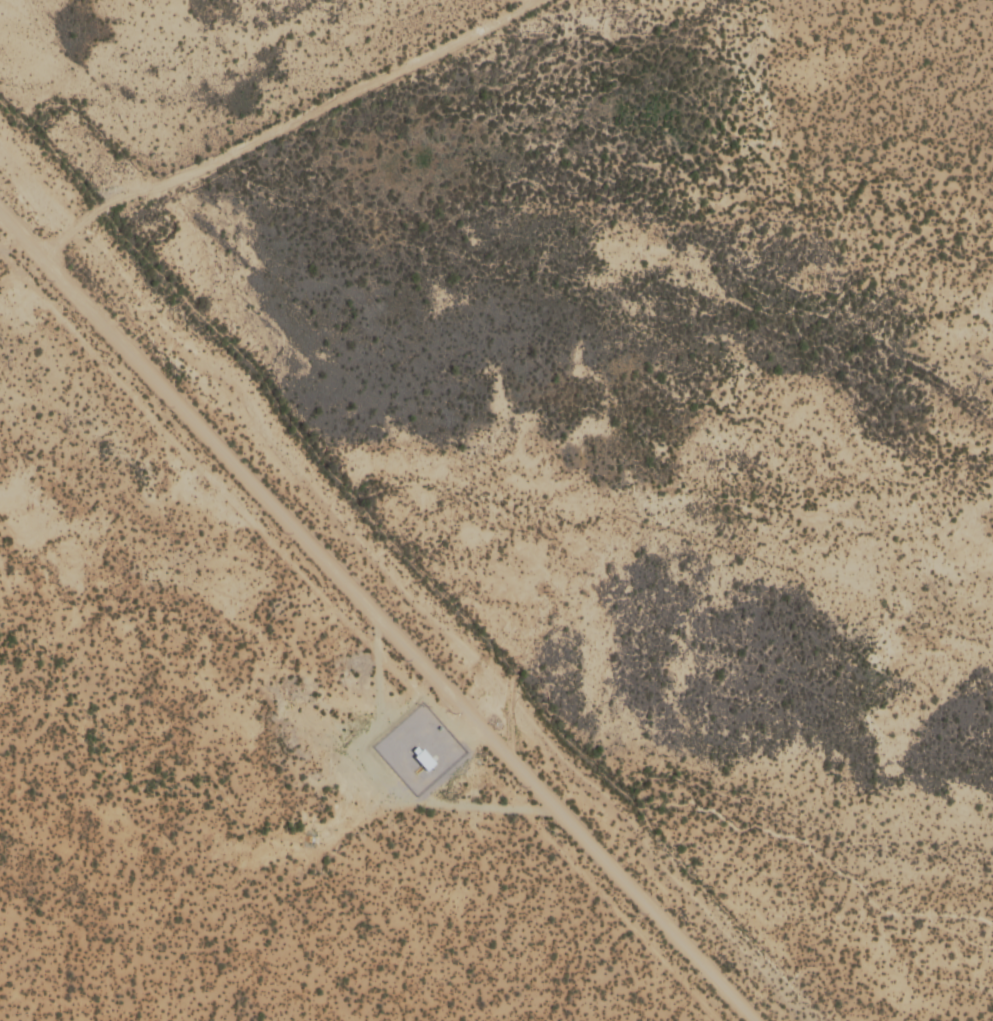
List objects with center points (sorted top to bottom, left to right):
road: (377, 602)
building: (101, 732)
building: (432, 830)
building: (482, 866)
building: (113, 873)
building: (50, 931)
building: (276, 989)
building: (161, 996)
building: (12, 998)

